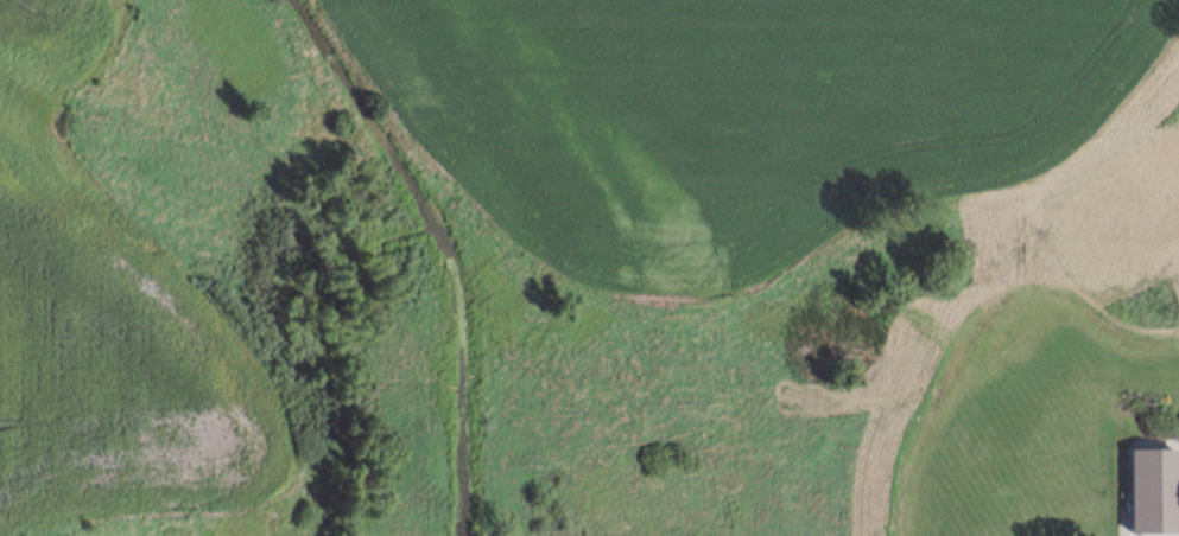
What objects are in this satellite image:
building: (1149, 489)

